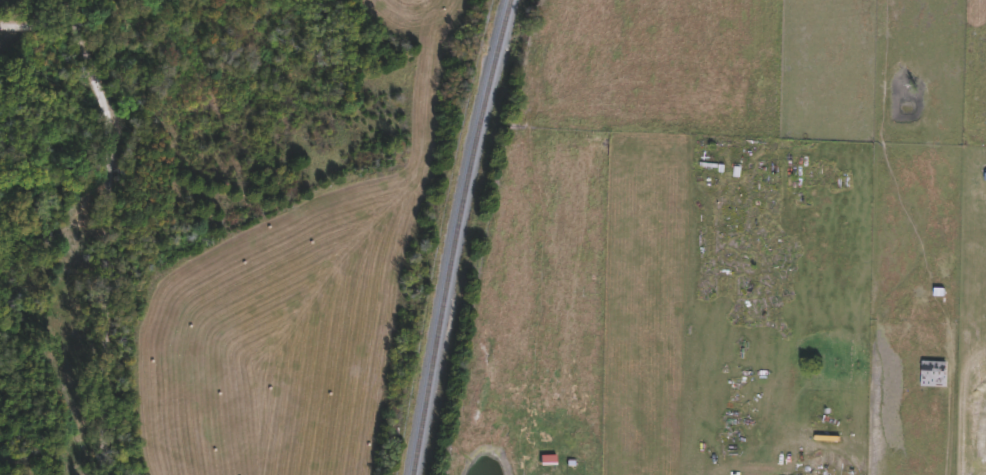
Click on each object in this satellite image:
road: (39, 26)
road: (104, 235)
railway: (454, 236)

